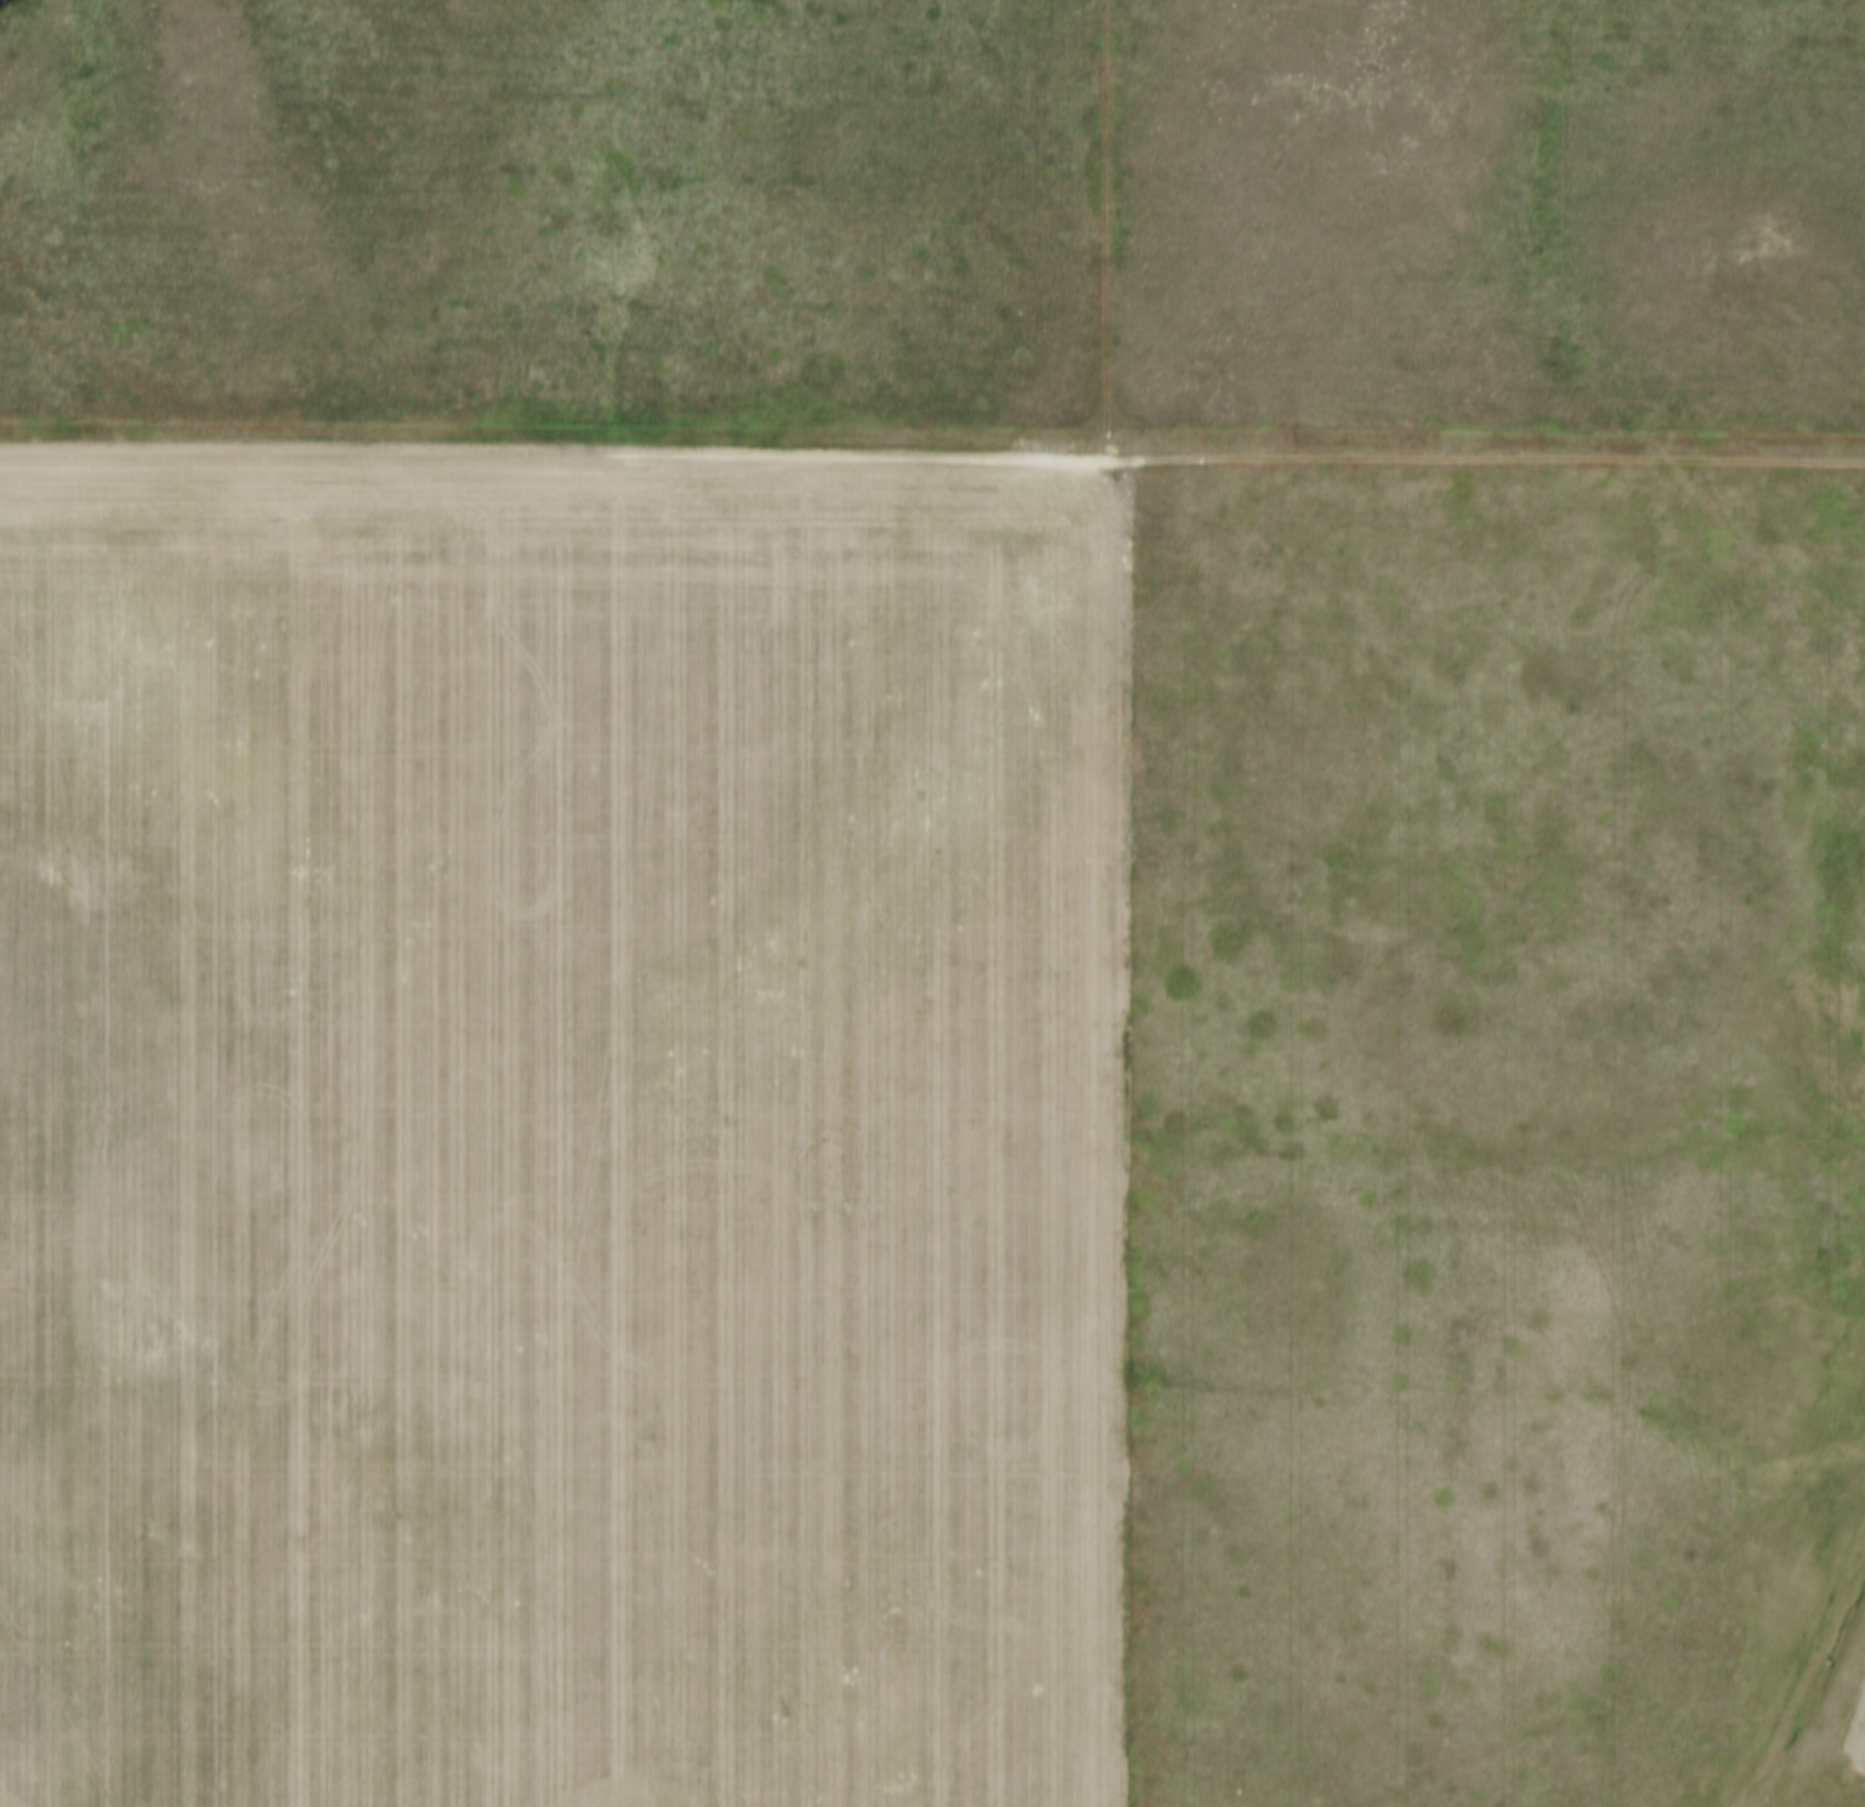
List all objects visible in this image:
road: (932, 468)
road: (1129, 900)

